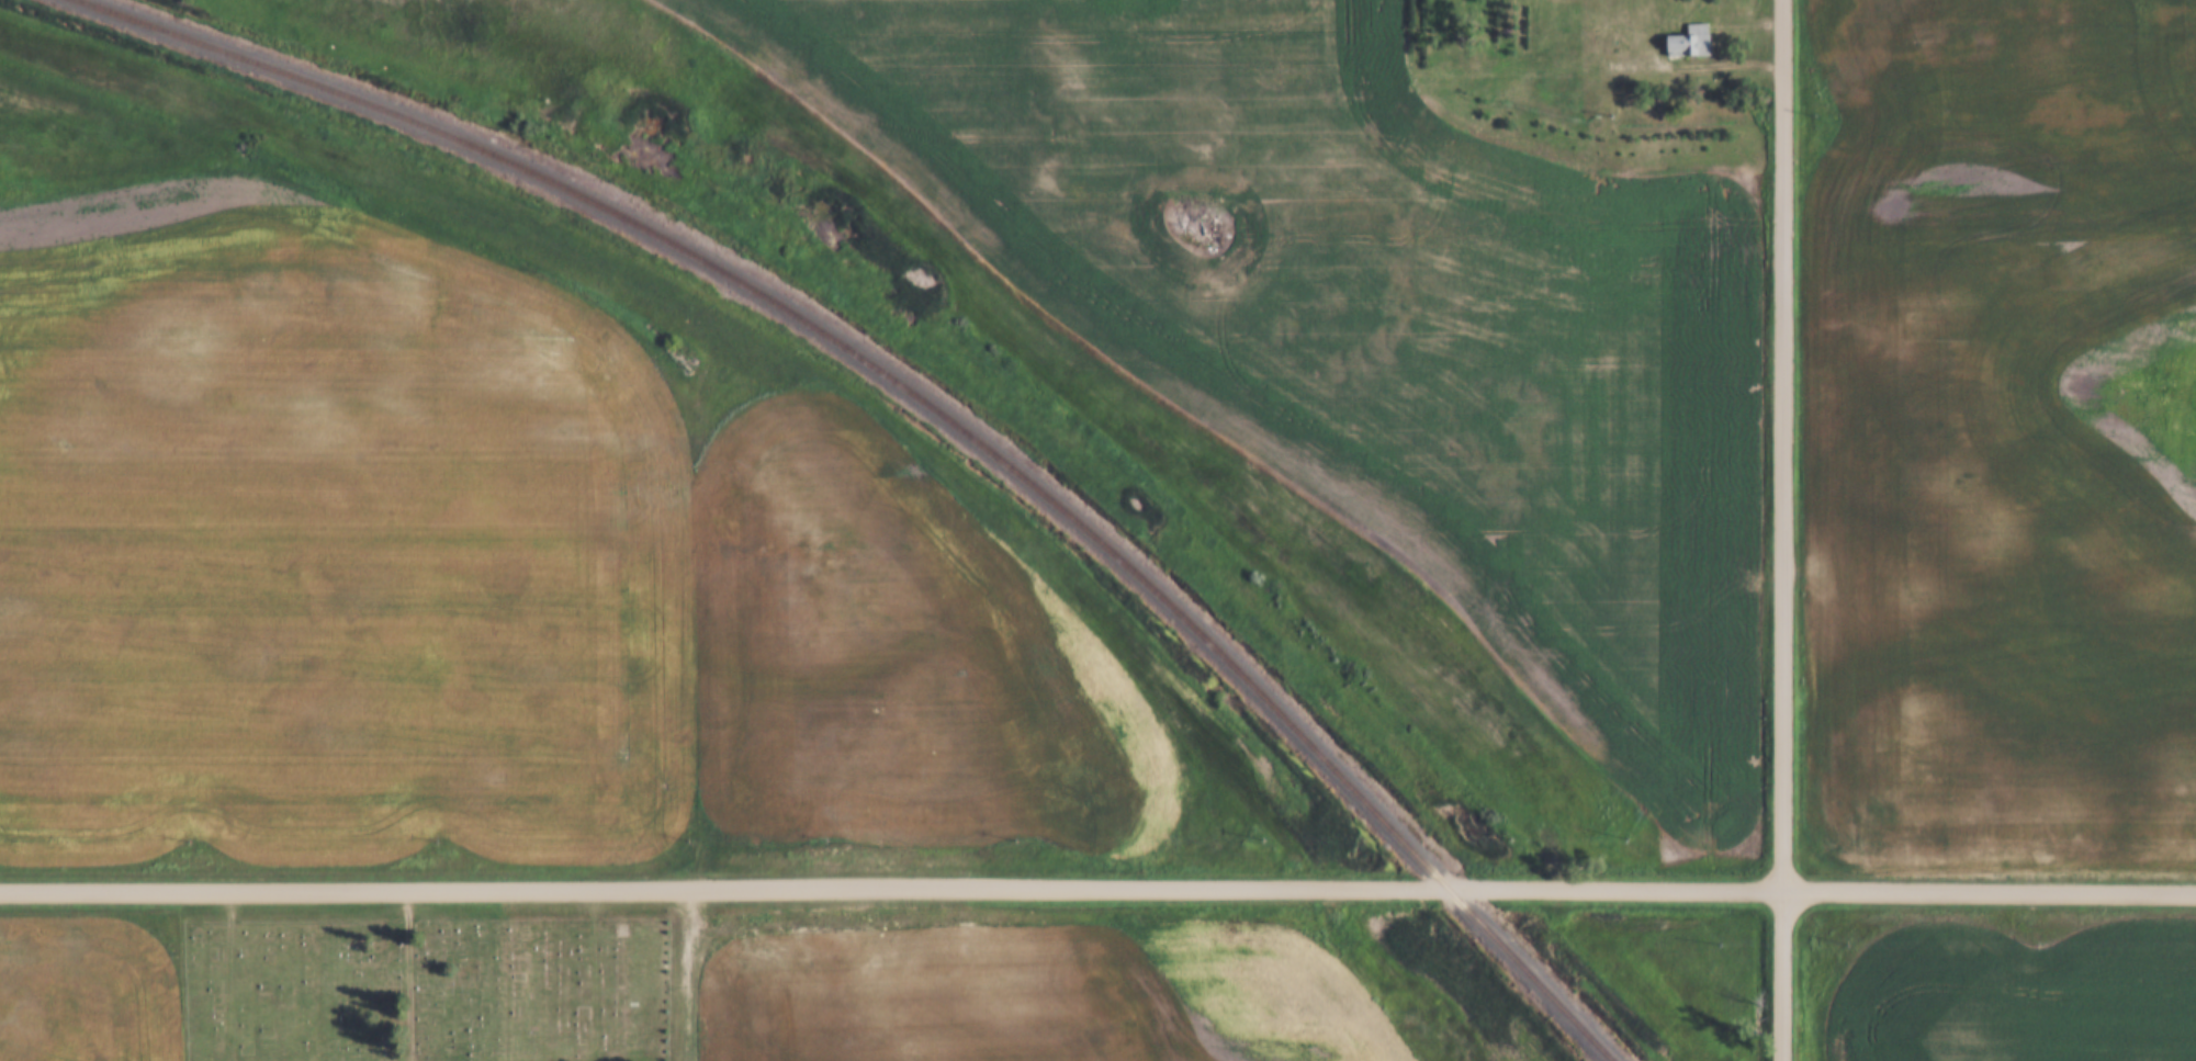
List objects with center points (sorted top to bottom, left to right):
building: (1685, 43)
road: (1705, 67)
crop: (1371, 316)
railway: (928, 406)
road: (1787, 530)
road: (1097, 892)
road: (418, 979)
park: (425, 991)

